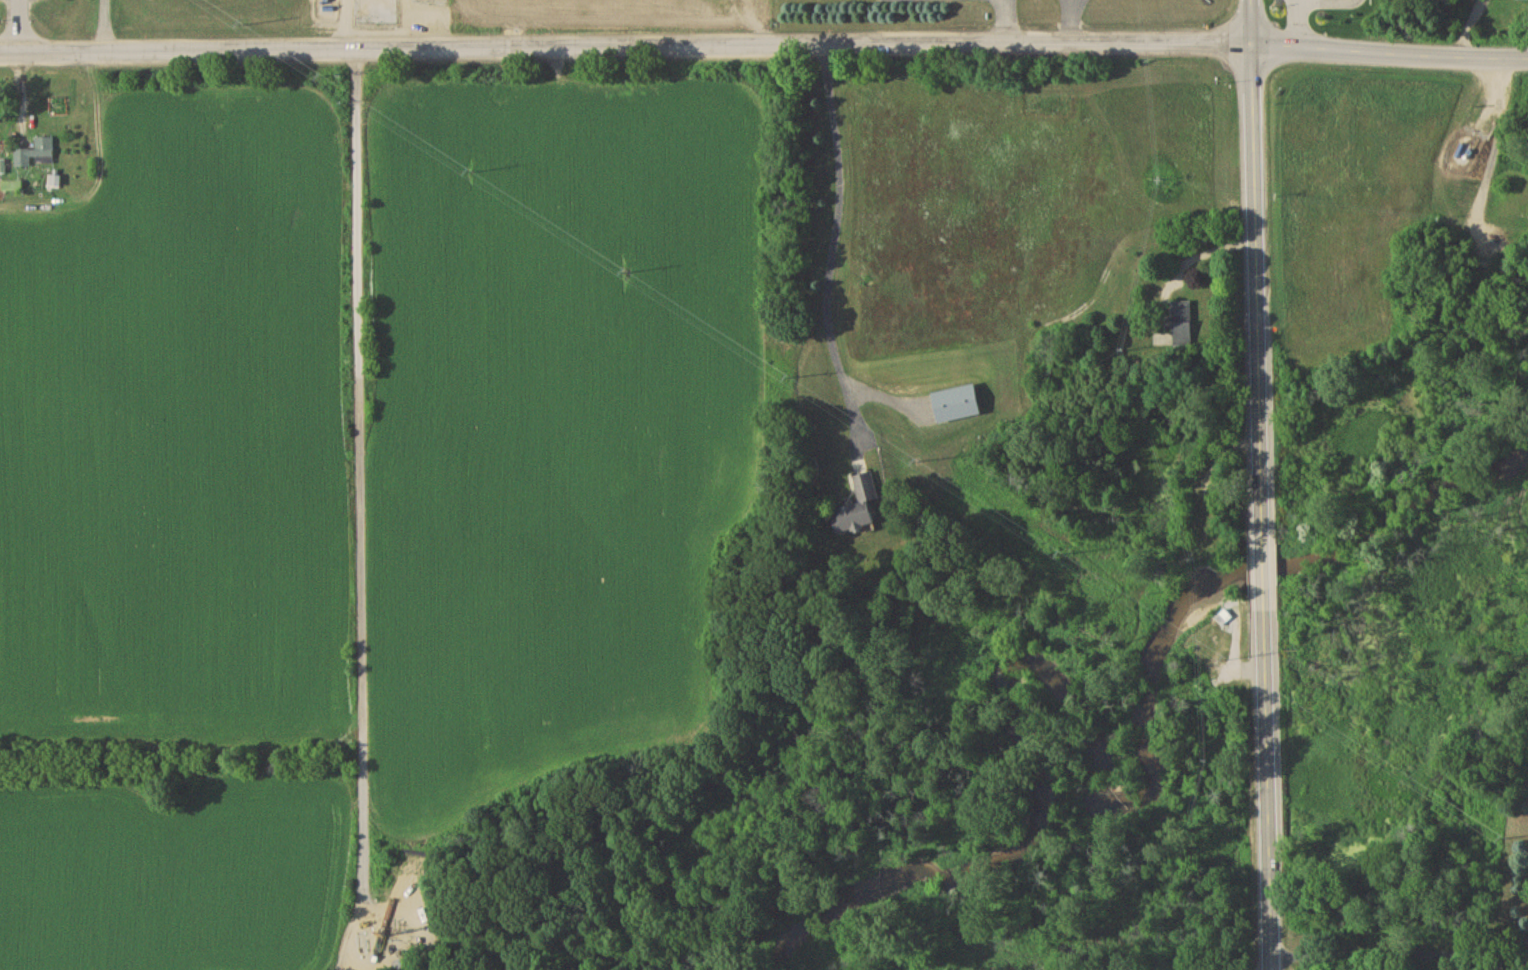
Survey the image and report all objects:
park: (824, 10)
road: (1004, 22)
road: (1073, 22)
road: (1300, 24)
road: (19, 27)
road: (1470, 28)
road: (764, 45)
building: (36, 156)
road: (834, 247)
road: (1206, 256)
building: (1182, 326)
road: (1261, 485)
road: (362, 486)
building: (858, 510)
building: (1223, 619)
road: (1402, 954)

